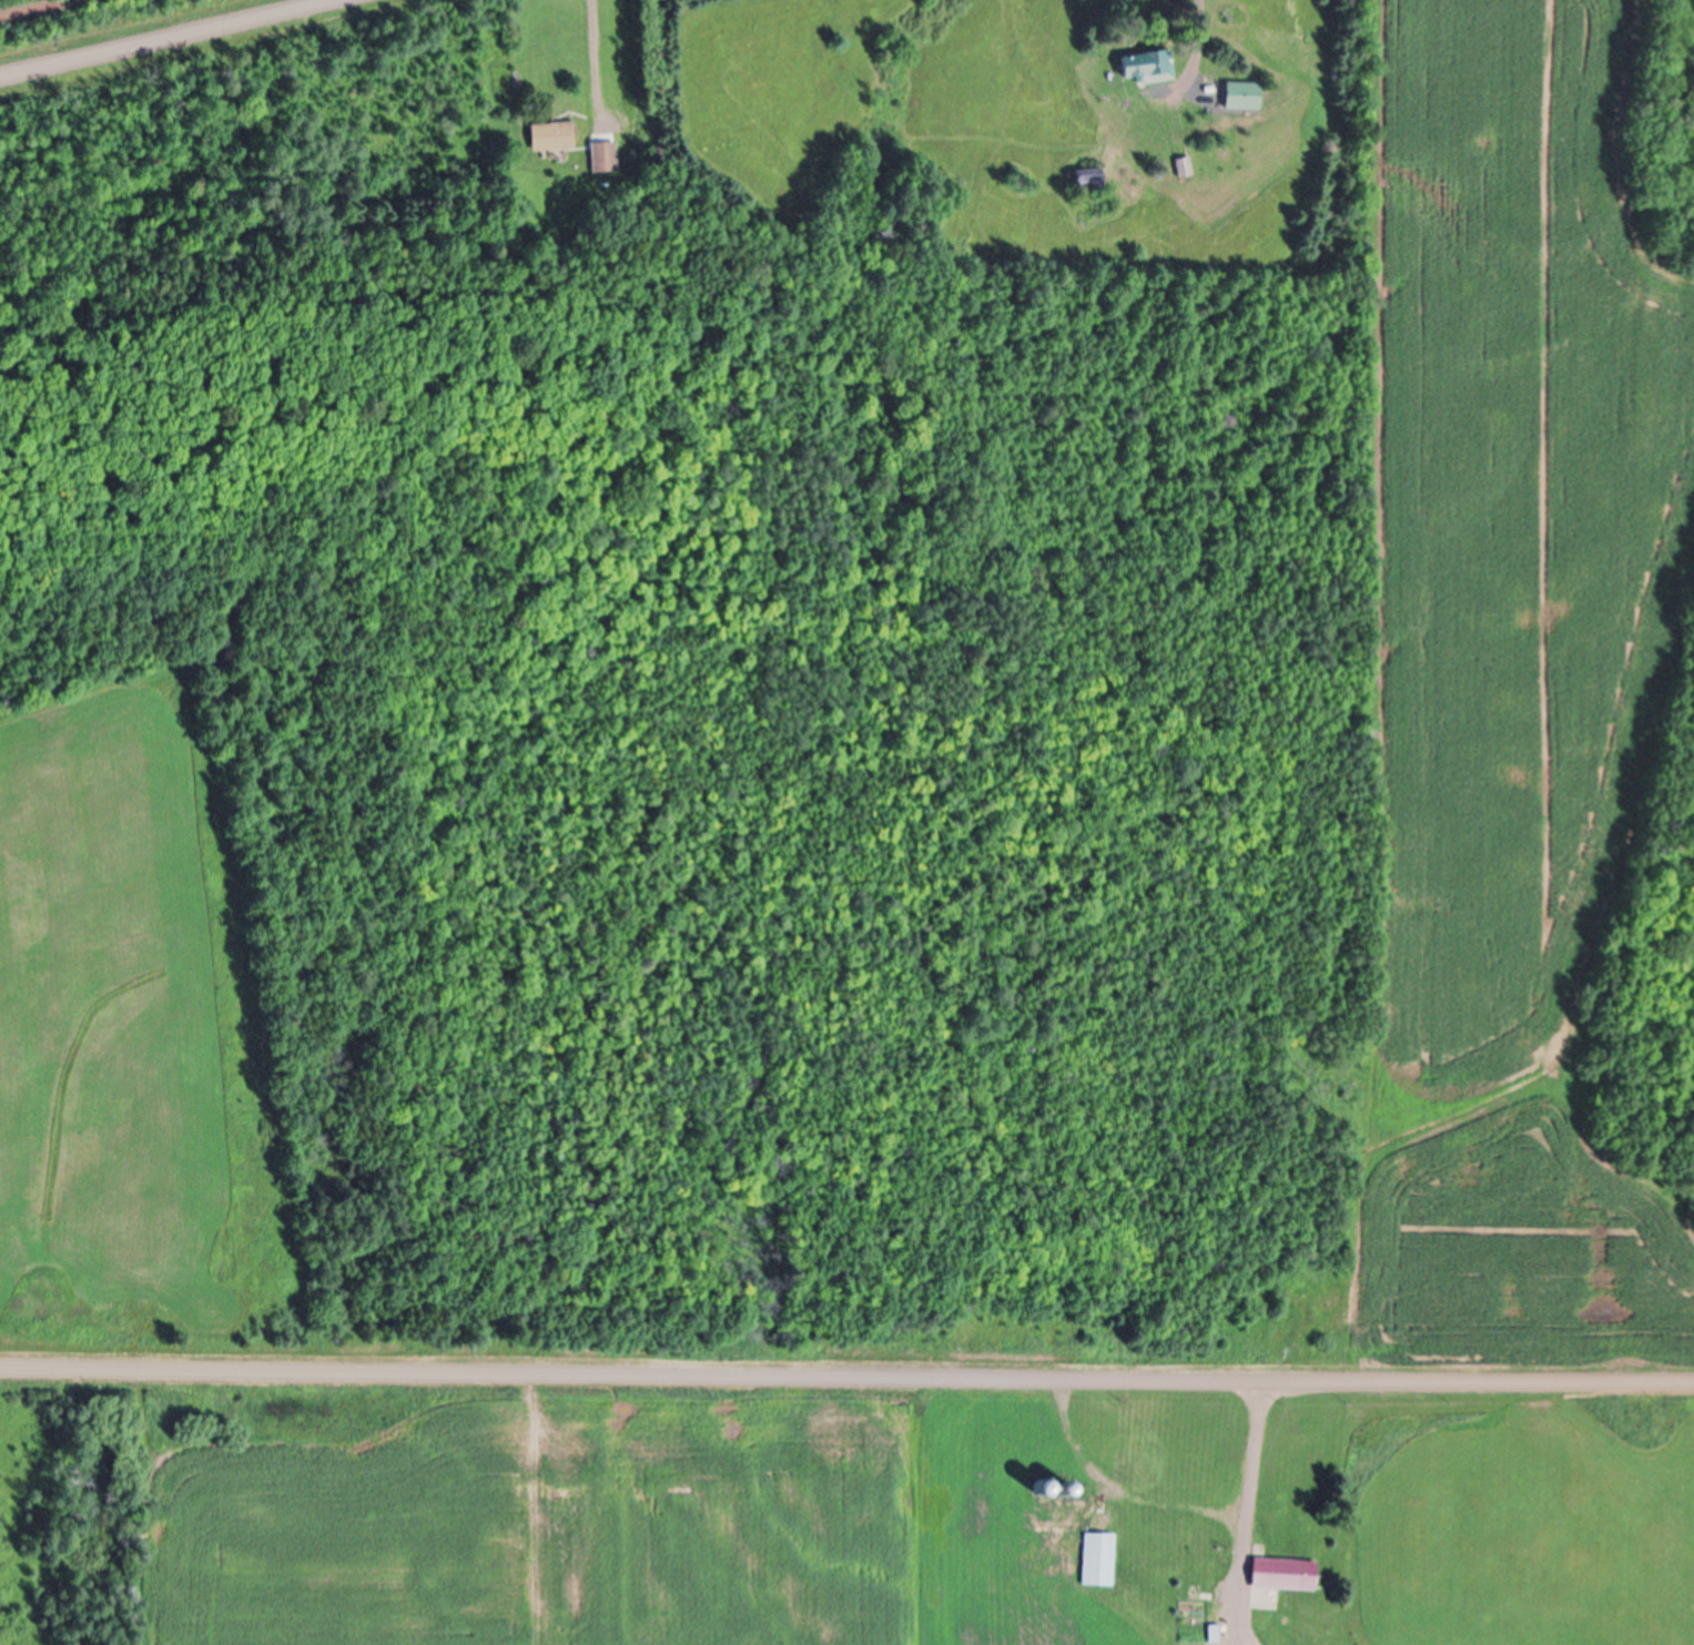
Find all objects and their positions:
road: (44, 10)
road: (161, 37)
building: (1147, 67)
building: (1242, 98)
building: (551, 140)
building: (606, 160)
road: (846, 1373)
crop: (528, 1512)
building: (1098, 1562)
building: (1284, 1576)

